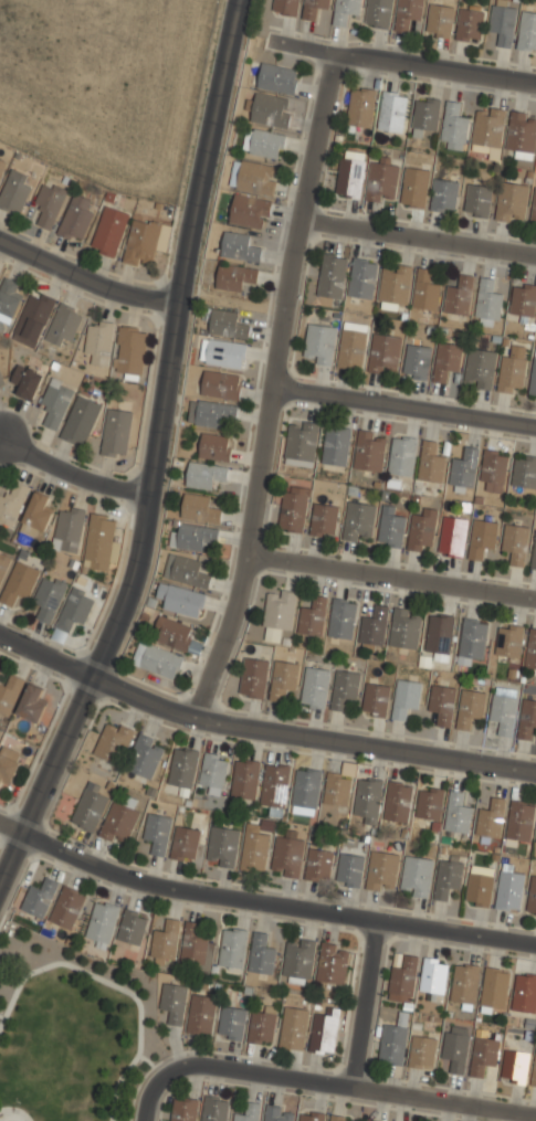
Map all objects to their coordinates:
building: (285, 7)
building: (314, 8)
building: (345, 11)
building: (378, 12)
building: (408, 13)
building: (440, 20)
building: (503, 23)
building: (470, 24)
building: (527, 31)
road: (400, 63)
building: (276, 77)
building: (360, 105)
building: (270, 110)
building: (392, 110)
building: (425, 116)
building: (453, 127)
building: (487, 128)
building: (522, 134)
building: (265, 144)
building: (2, 167)
building: (350, 175)
building: (256, 178)
building: (382, 179)
building: (414, 187)
building: (15, 193)
building: (444, 194)
building: (477, 200)
building: (512, 201)
building: (50, 204)
building: (533, 209)
building: (250, 211)
building: (77, 218)
building: (108, 231)
road: (418, 237)
building: (141, 242)
building: (239, 246)
building: (333, 275)
building: (234, 276)
road: (86, 277)
building: (362, 278)
building: (395, 285)
building: (425, 289)
building: (459, 295)
building: (9, 297)
building: (522, 299)
building: (488, 302)
building: (34, 316)
building: (228, 324)
building: (64, 327)
building: (320, 343)
building: (98, 345)
building: (351, 348)
building: (130, 351)
building: (225, 352)
building: (385, 352)
building: (446, 359)
building: (417, 361)
building: (479, 368)
building: (513, 369)
building: (533, 378)
building: (2, 380)
building: (27, 382)
building: (222, 384)
road: (272, 388)
building: (55, 403)
road: (404, 406)
building: (211, 412)
building: (82, 422)
building: (116, 433)
building: (302, 442)
building: (336, 445)
building: (216, 446)
building: (370, 451)
road: (154, 452)
building: (402, 455)
building: (431, 463)
building: (464, 468)
building: (493, 469)
road: (72, 470)
building: (524, 470)
building: (206, 474)
building: (12, 506)
building: (202, 507)
building: (293, 508)
building: (36, 515)
building: (324, 519)
building: (359, 520)
building: (390, 527)
building: (422, 529)
building: (69, 531)
building: (192, 536)
building: (453, 536)
building: (482, 537)
building: (99, 541)
building: (515, 542)
building: (534, 557)
building: (186, 571)
building: (1, 574)
road: (391, 575)
building: (19, 583)
building: (48, 597)
building: (181, 600)
building: (75, 607)
building: (278, 613)
building: (313, 616)
building: (341, 617)
building: (374, 627)
building: (404, 627)
building: (175, 635)
building: (439, 635)
building: (472, 639)
building: (508, 641)
building: (530, 648)
road: (45, 656)
building: (161, 663)
building: (253, 677)
building: (283, 678)
building: (315, 686)
building: (344, 687)
building: (9, 692)
building: (406, 697)
building: (376, 699)
building: (442, 702)
building: (32, 704)
building: (470, 706)
building: (504, 712)
building: (527, 717)
road: (309, 738)
building: (113, 743)
building: (145, 758)
building: (8, 763)
building: (182, 768)
building: (214, 772)
building: (245, 779)
building: (275, 784)
building: (337, 789)
building: (306, 791)
building: (368, 799)
building: (398, 801)
building: (429, 802)
building: (90, 807)
building: (458, 812)
building: (490, 818)
building: (519, 821)
building: (119, 822)
building: (157, 833)
building: (185, 843)
building: (222, 846)
building: (254, 849)
building: (286, 857)
building: (319, 865)
building: (349, 869)
building: (382, 870)
building: (448, 875)
building: (417, 876)
building: (480, 885)
building: (509, 889)
building: (532, 896)
building: (39, 898)
road: (262, 902)
building: (67, 909)
building: (102, 924)
building: (133, 929)
building: (165, 942)
building: (195, 944)
building: (232, 949)
building: (262, 955)
building: (298, 959)
building: (333, 962)
building: (434, 974)
building: (402, 976)
building: (464, 983)
building: (494, 988)
building: (524, 992)
building: (174, 1003)
road: (364, 1004)
building: (201, 1015)
building: (231, 1024)
building: (262, 1026)
building: (294, 1027)
park: (71, 1032)
building: (324, 1032)
building: (392, 1044)
building: (455, 1050)
building: (422, 1053)
building: (484, 1054)
building: (514, 1066)
building: (534, 1071)
road: (323, 1082)
building: (214, 1109)
building: (183, 1110)
building: (246, 1113)
building: (277, 1113)
park: (13, 1114)
building: (311, 1115)
building: (341, 1118)
building: (372, 1120)

